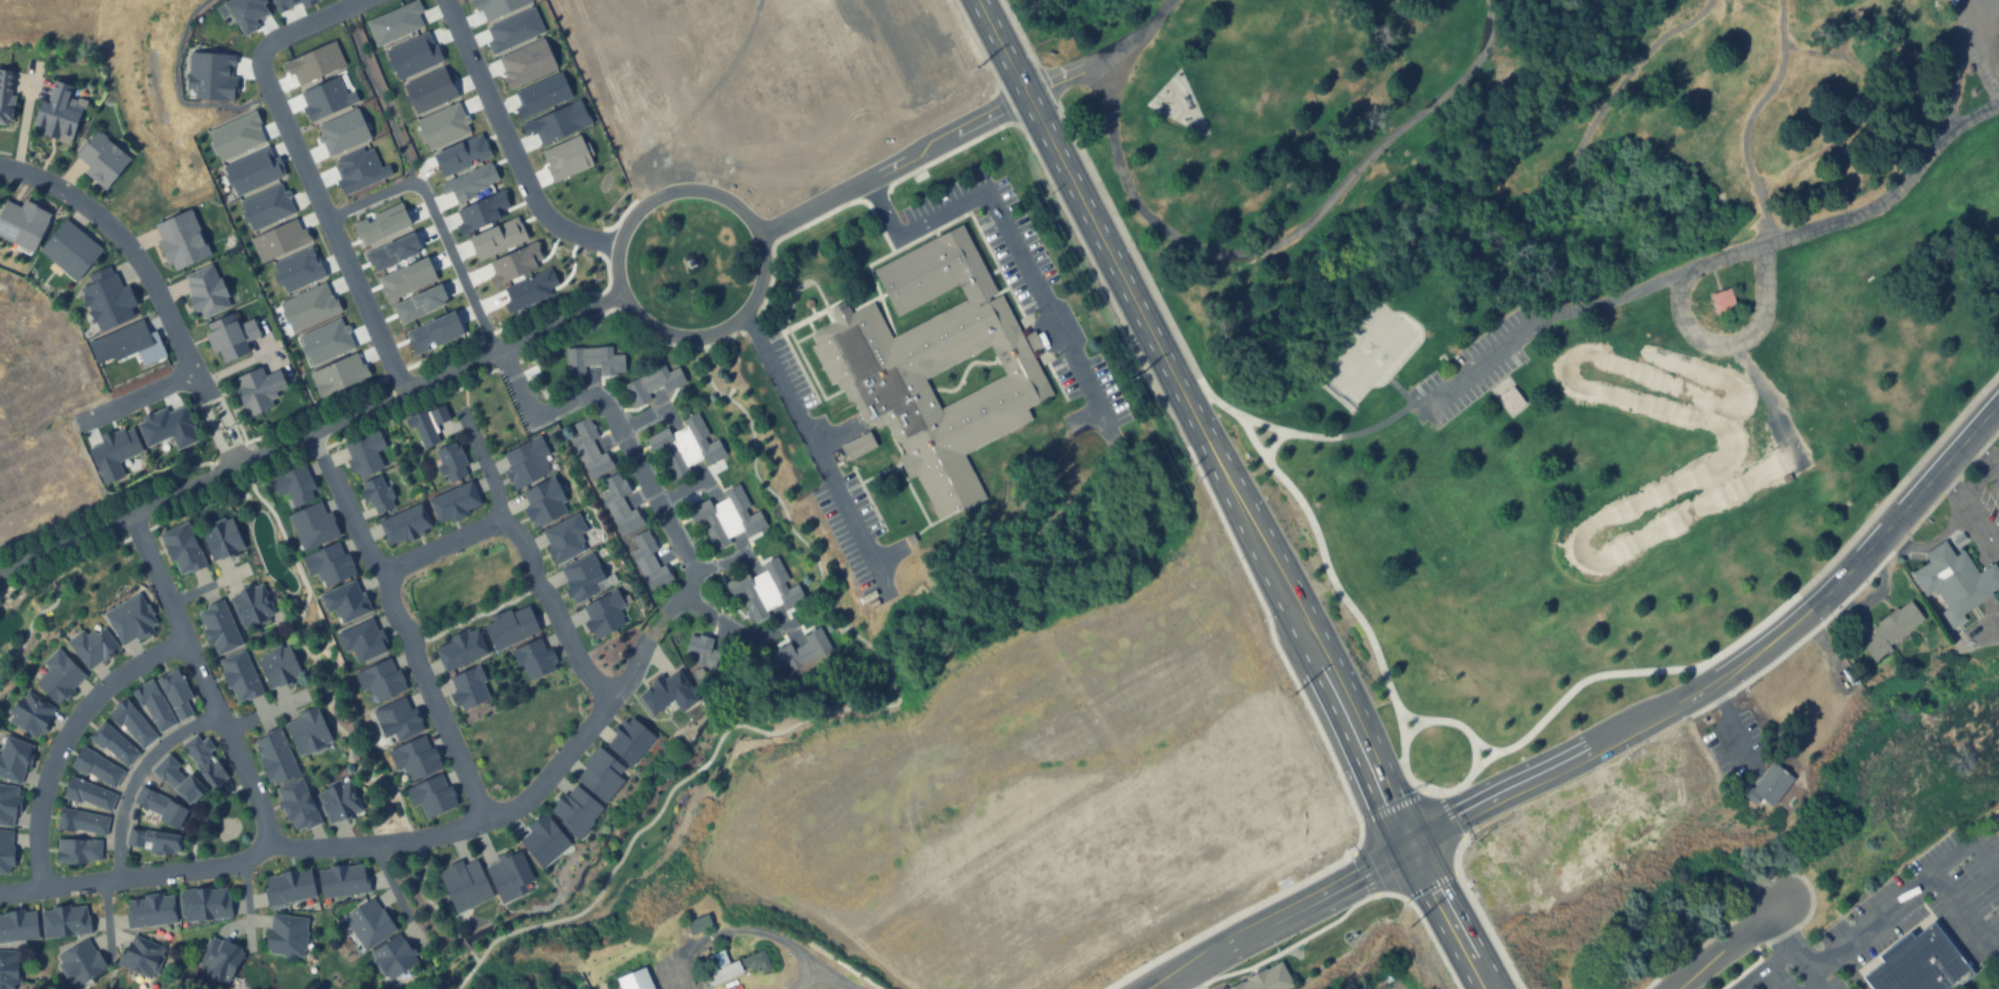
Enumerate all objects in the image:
road: (1516, 43)
road: (1007, 46)
road: (1967, 52)
power tower: (975, 66)
road: (1078, 66)
road: (1953, 91)
building: (6, 95)
building: (57, 113)
road: (512, 143)
building: (101, 160)
road: (894, 163)
road: (308, 170)
road: (1406, 203)
building: (22, 223)
building: (181, 240)
road: (1009, 243)
building: (69, 249)
road: (1253, 251)
road: (1715, 261)
road: (1189, 275)
road: (151, 285)
building: (206, 291)
road: (623, 295)
building: (1722, 300)
park: (1544, 322)
building: (230, 337)
road: (1733, 344)
park: (1367, 353)
building: (578, 358)
building: (607, 360)
building: (933, 367)
parking lot: (1476, 367)
power tower: (1139, 376)
building: (664, 378)
road: (151, 390)
building: (258, 390)
building: (638, 391)
building: (1511, 401)
road: (1415, 402)
road: (1250, 416)
road: (638, 419)
building: (695, 427)
road: (310, 432)
building: (583, 436)
building: (662, 442)
building: (858, 446)
building: (709, 450)
road: (813, 453)
road: (1984, 453)
building: (595, 464)
track: (1712, 465)
building: (675, 466)
road: (1221, 470)
building: (293, 484)
road: (678, 491)
building: (613, 492)
building: (735, 498)
road: (1970, 510)
building: (703, 513)
building: (625, 520)
building: (749, 521)
building: (716, 536)
building: (221, 540)
road: (1935, 540)
road: (444, 546)
building: (183, 548)
building: (642, 548)
road: (529, 559)
road: (716, 563)
building: (774, 570)
building: (654, 575)
building: (1955, 582)
building: (741, 585)
building: (788, 594)
building: (251, 605)
building: (754, 609)
building: (129, 618)
road: (400, 623)
building: (219, 628)
road: (731, 628)
building: (1891, 631)
building: (814, 644)
building: (92, 647)
building: (703, 650)
building: (788, 656)
road: (1736, 661)
building: (278, 666)
building: (240, 675)
building: (58, 676)
road: (203, 680)
building: (175, 693)
building: (153, 704)
building: (30, 714)
road: (830, 715)
road: (258, 717)
building: (133, 722)
road: (1722, 726)
building: (307, 731)
road: (66, 734)
road: (1380, 736)
power tower: (1323, 739)
building: (112, 742)
building: (13, 758)
building: (274, 759)
building: (203, 760)
road: (561, 762)
building: (95, 765)
road: (135, 775)
building: (177, 779)
building: (1772, 783)
building: (87, 793)
building: (339, 801)
building: (8, 803)
building: (297, 805)
building: (160, 807)
road: (1419, 815)
building: (81, 820)
road: (1426, 835)
road: (1967, 838)
building: (153, 841)
traffic signals: (1412, 847)
building: (77, 850)
building: (5, 852)
road: (1384, 856)
power tower: (1399, 879)
building: (341, 881)
building: (290, 887)
road: (1391, 892)
building: (202, 902)
road: (245, 902)
building: (149, 910)
road: (1963, 911)
road: (1243, 915)
road: (106, 916)
road: (1282, 918)
road: (1447, 918)
building: (64, 922)
building: (369, 923)
building: (698, 924)
building: (17, 926)
road: (772, 933)
building: (287, 935)
road: (1841, 940)
road: (1729, 944)
building: (141, 956)
building: (393, 957)
building: (220, 959)
building: (79, 963)
building: (1918, 964)
building: (733, 965)
road: (1761, 968)
building: (7, 969)
building: (1266, 979)
road: (1812, 979)
building: (636, 980)
road: (1189, 980)

